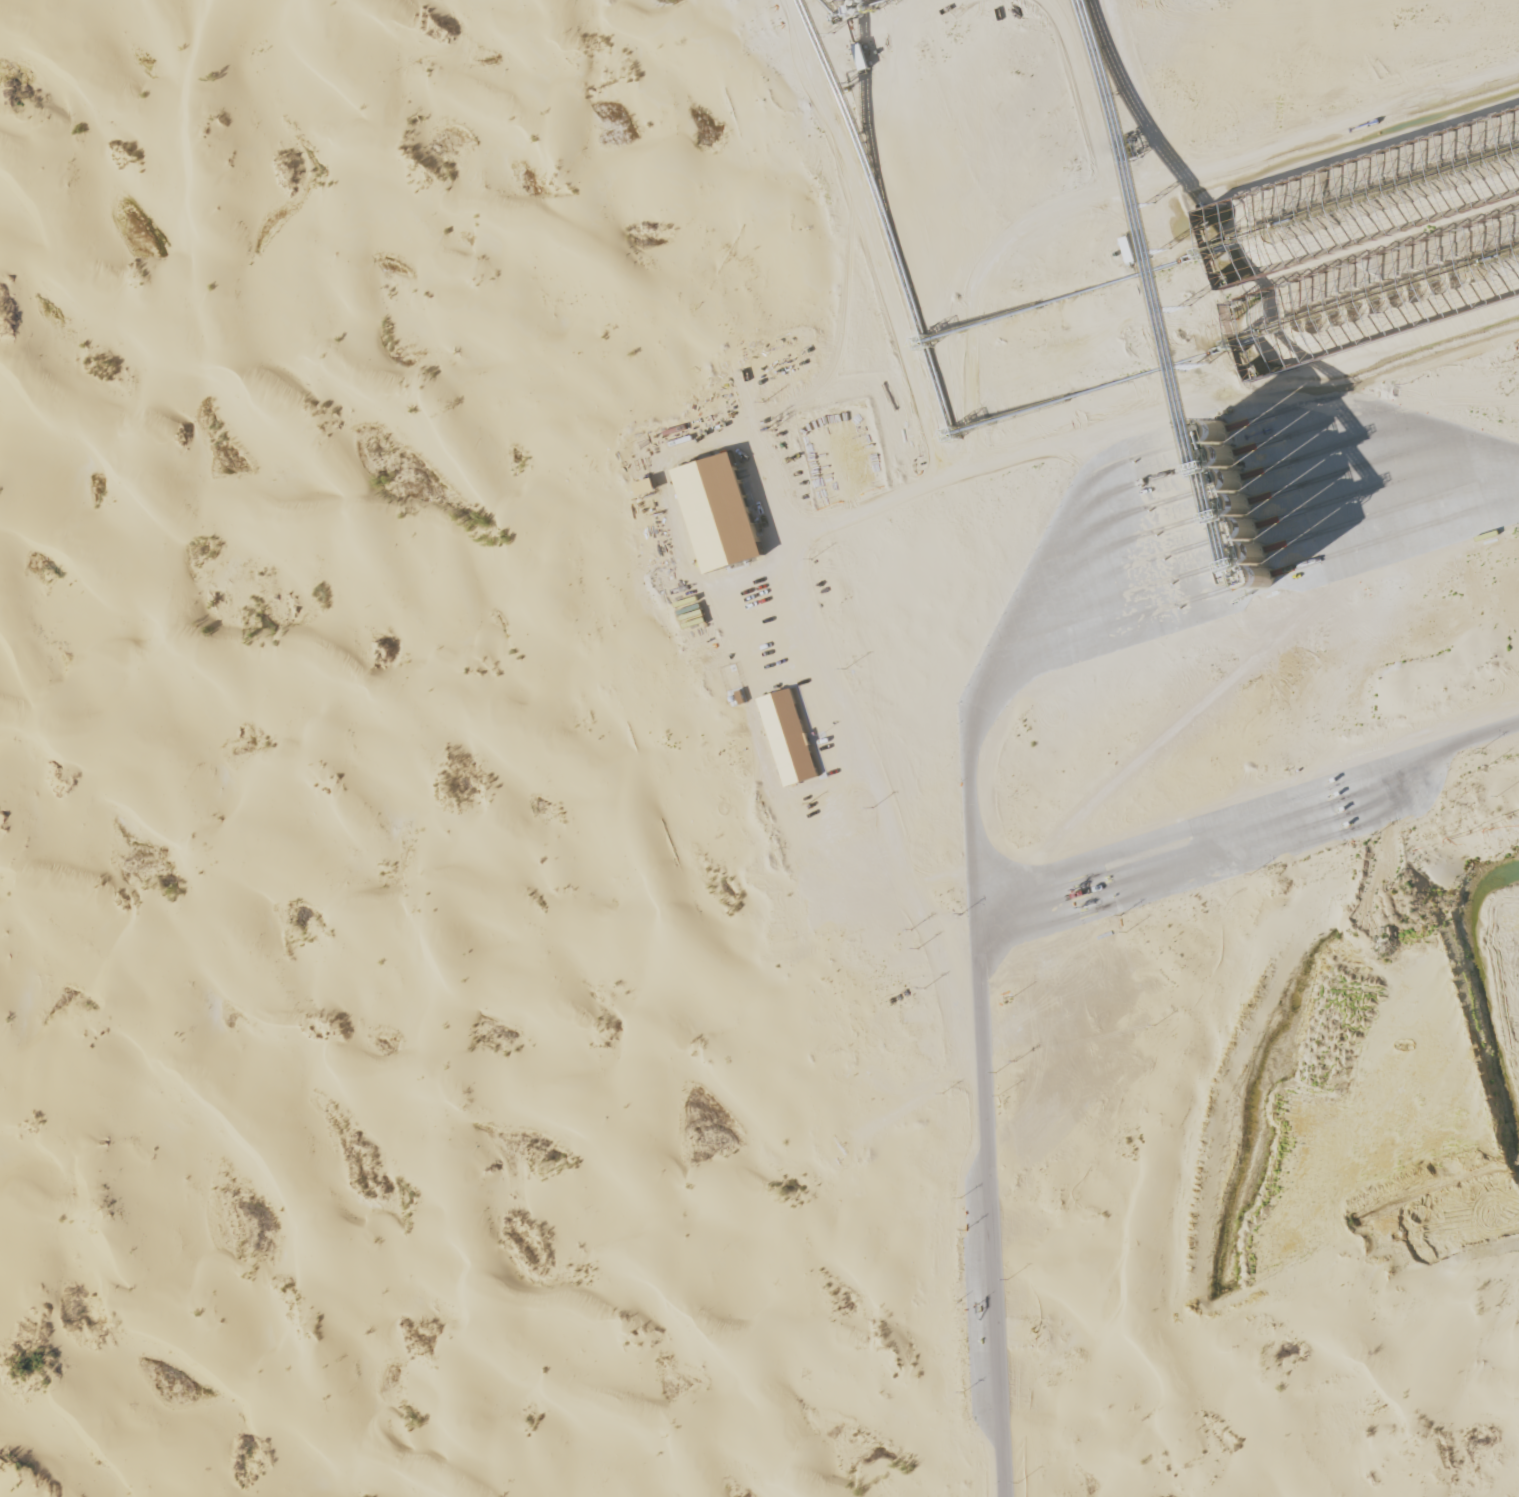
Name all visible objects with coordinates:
building: (790, 738)
road: (853, 742)
road: (986, 915)

